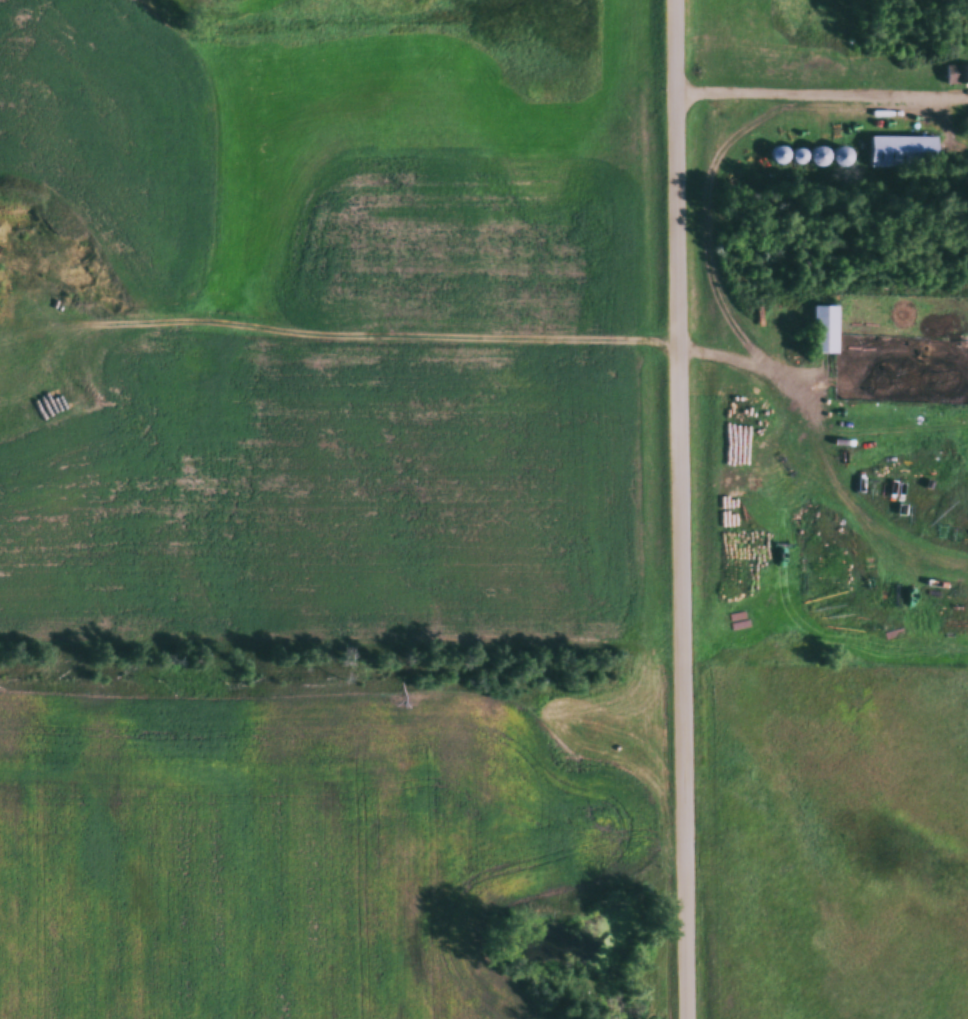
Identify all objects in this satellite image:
building: (956, 75)
road: (821, 90)
building: (964, 126)
building: (903, 152)
building: (826, 330)
road: (682, 509)

